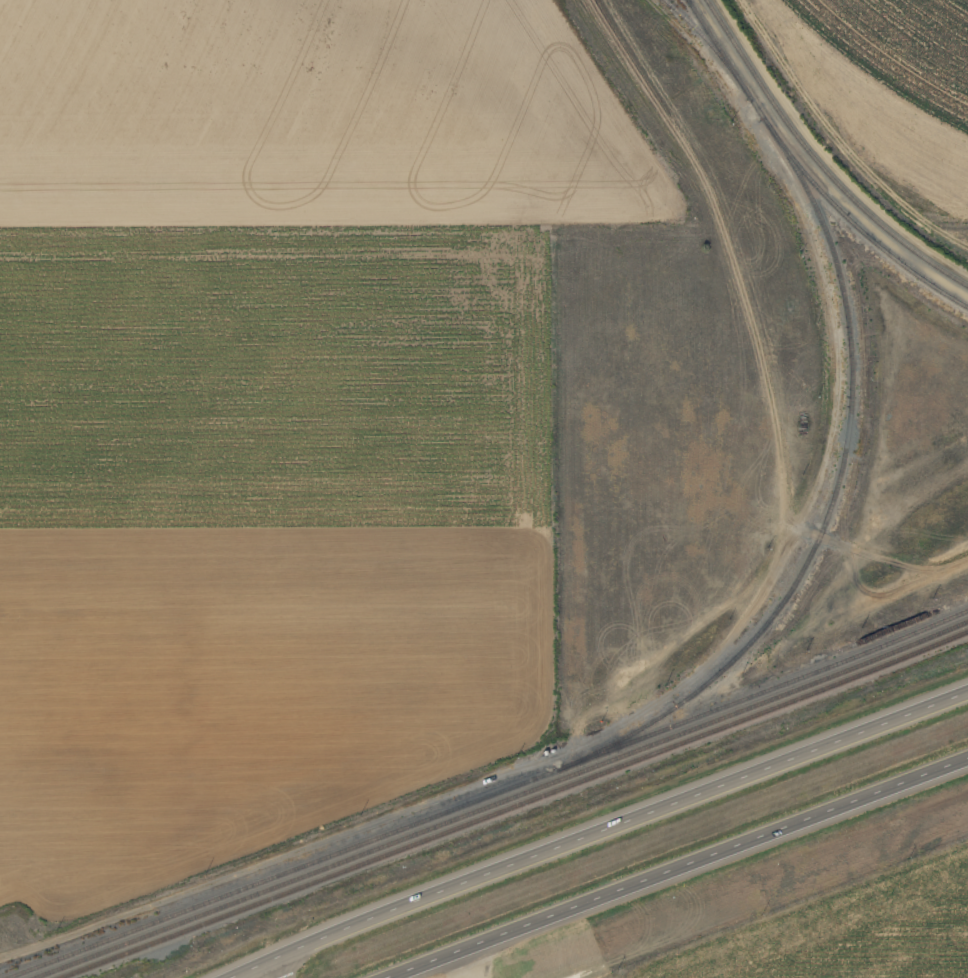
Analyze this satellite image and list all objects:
railway: (710, 44)
railway: (817, 161)
railway: (804, 174)
railway: (832, 497)
railway: (486, 795)
railway: (499, 800)
railway: (514, 805)
railway: (659, 810)
road: (596, 830)
road: (677, 868)
road: (274, 968)

